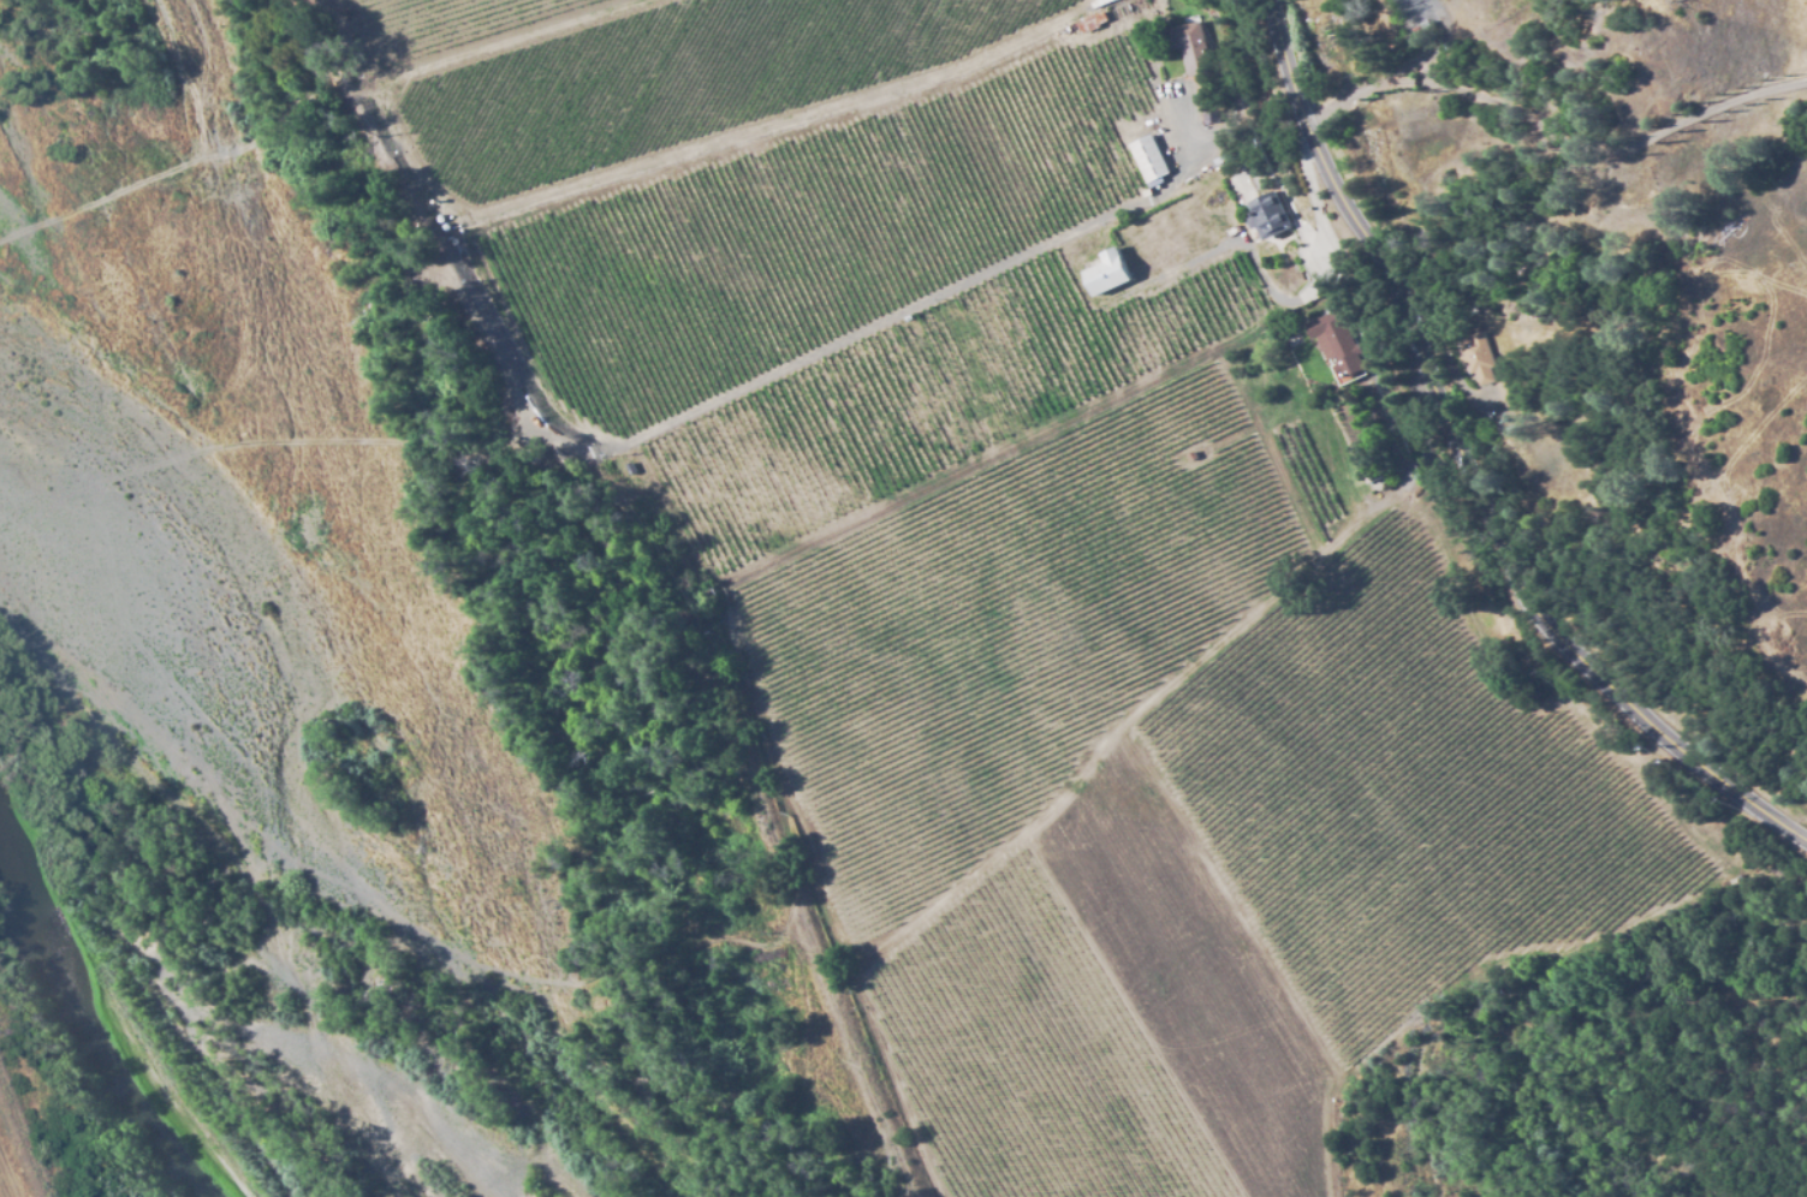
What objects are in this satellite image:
building: (1188, 48)
building: (1147, 159)
building: (1266, 215)
building: (1106, 272)
building: (1336, 346)
building: (1475, 357)
building: (1500, 391)
road: (1469, 472)
river: (125, 1031)
airport: (22, 1151)

